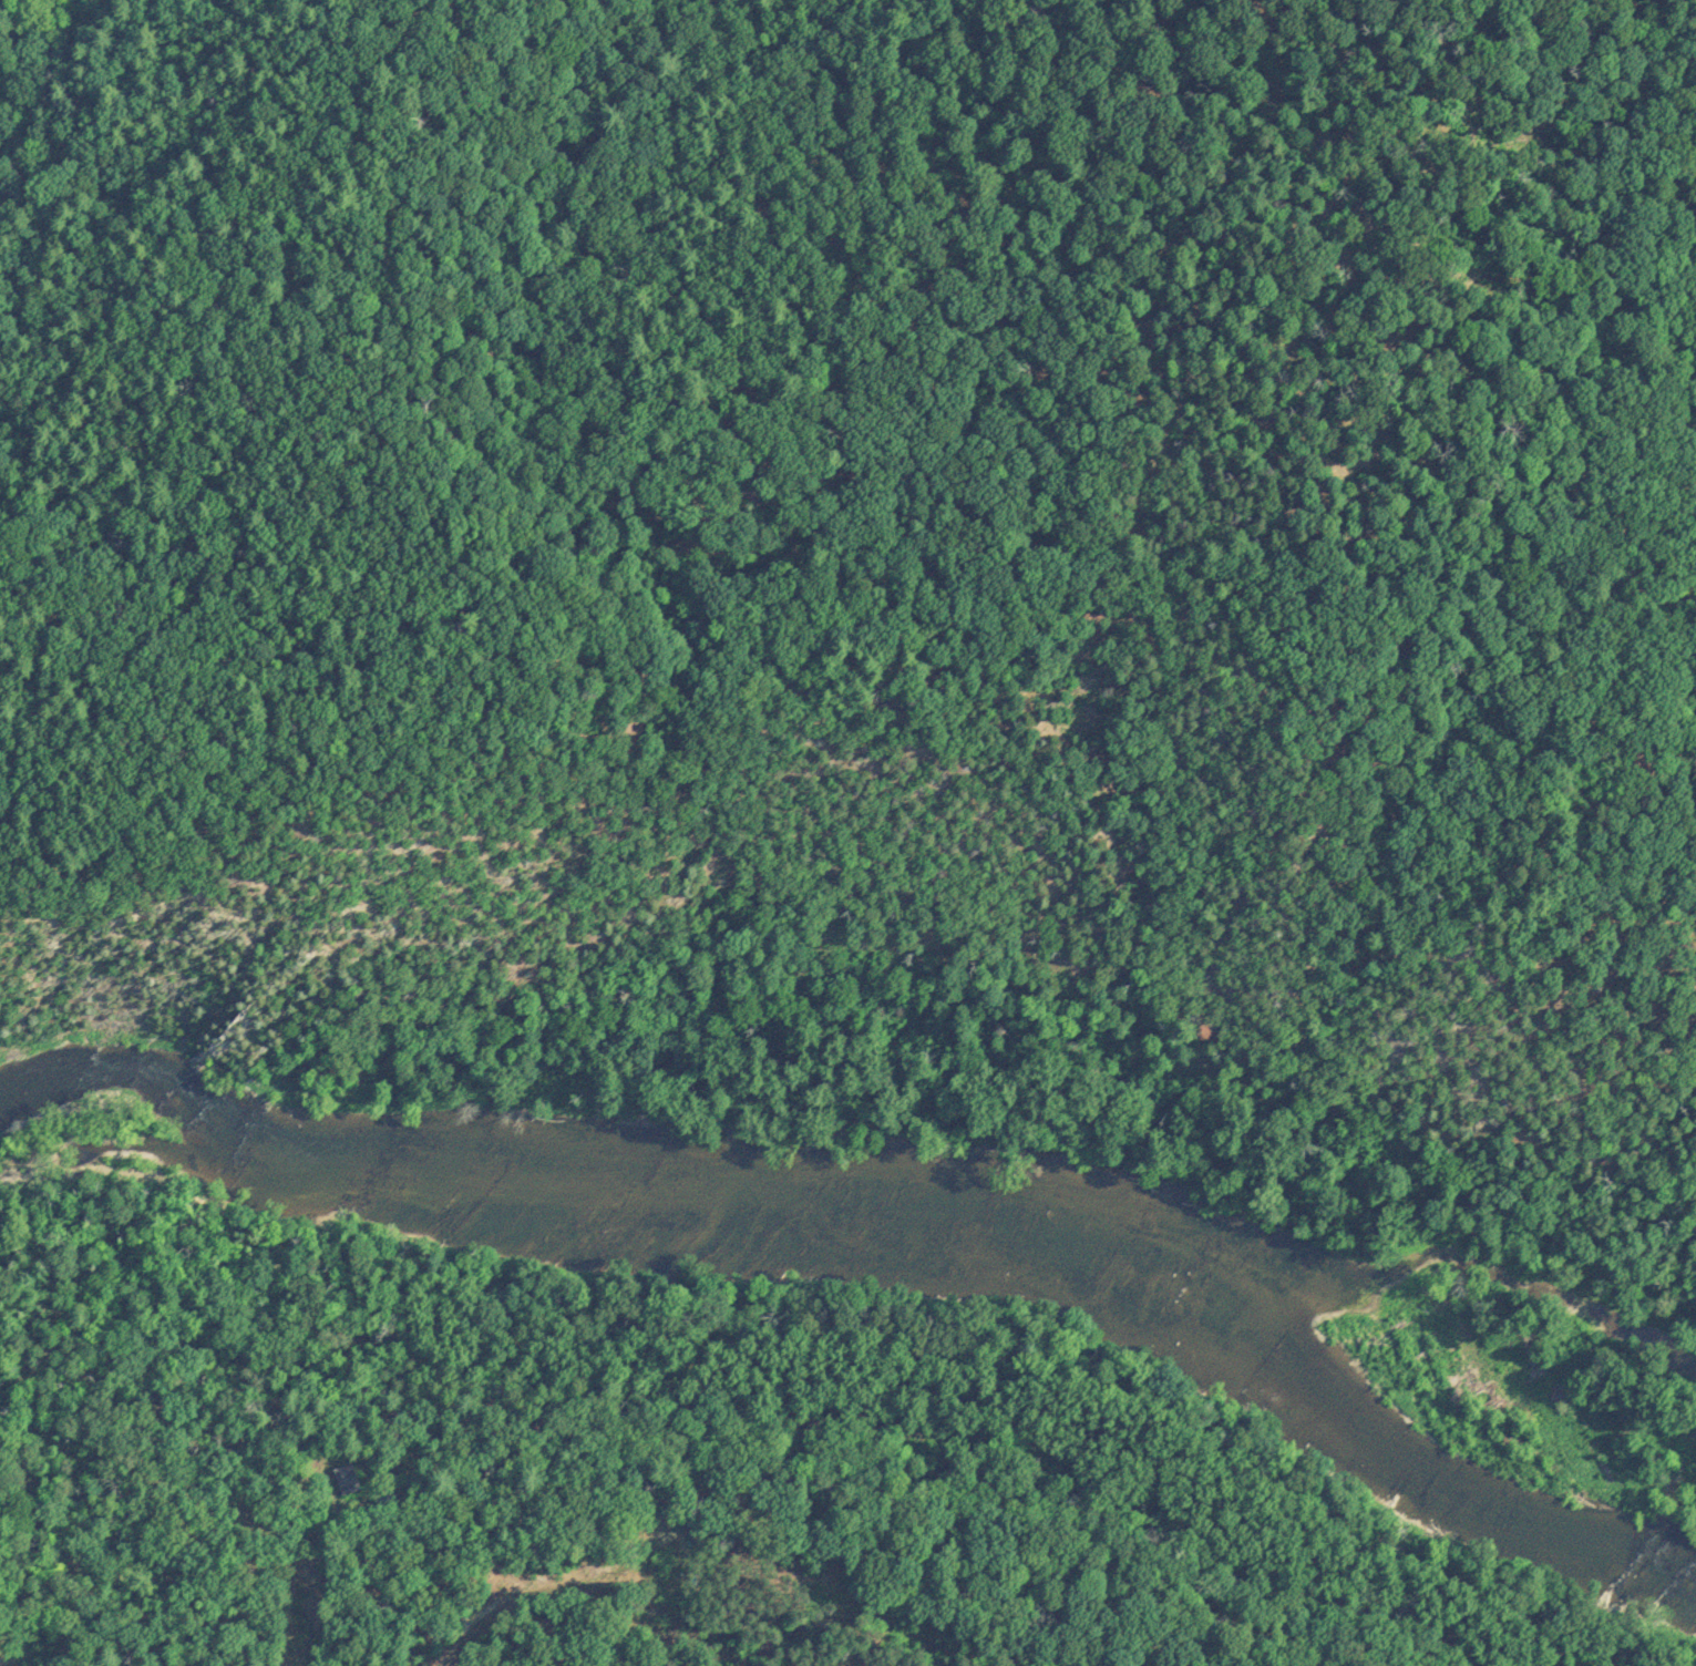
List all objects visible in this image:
river: (878, 1231)

